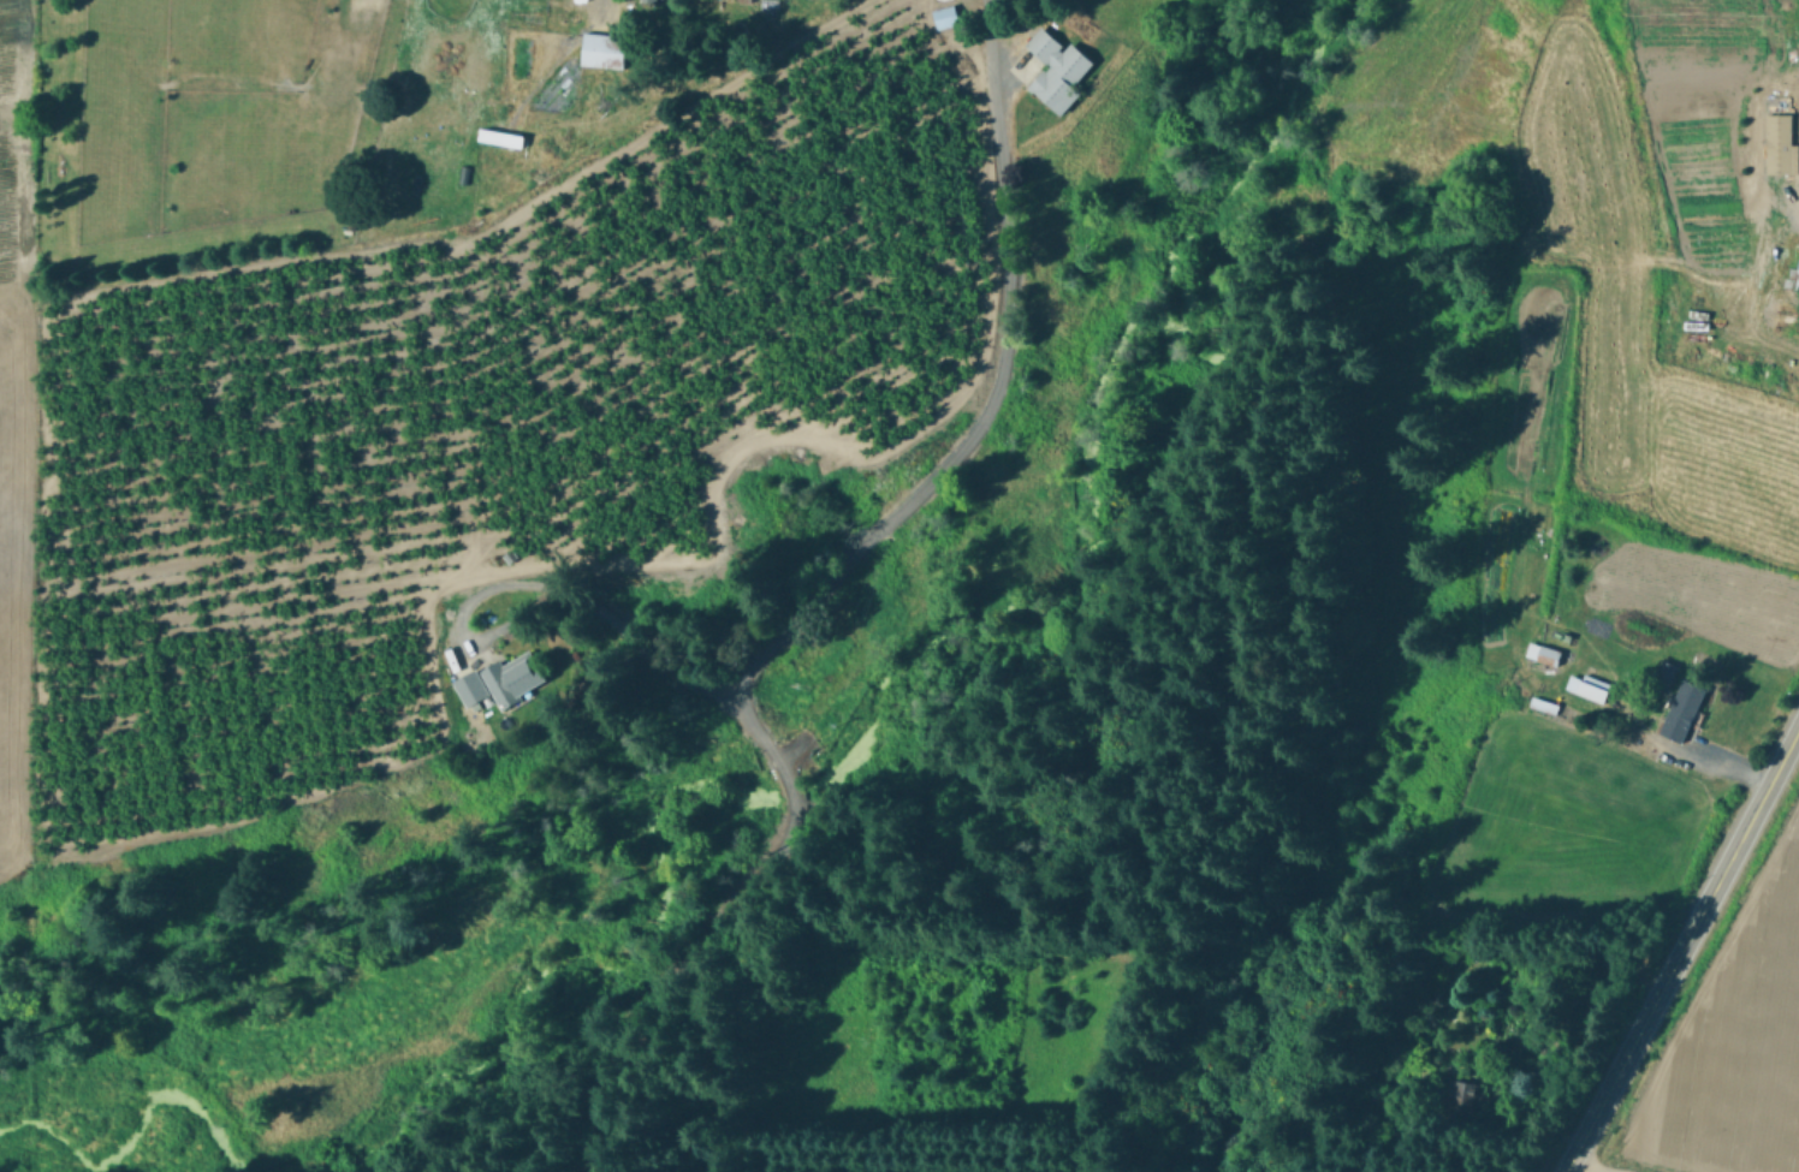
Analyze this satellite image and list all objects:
building: (600, 49)
building: (1053, 71)
crop: (206, 132)
building: (1781, 136)
building: (498, 138)
building: (1793, 273)
road: (823, 593)
road: (606, 609)
building: (1540, 654)
building: (499, 680)
building: (1585, 688)
building: (1679, 710)
road: (1681, 948)
crop: (1724, 1040)
building: (1456, 1095)
road: (1580, 1168)

